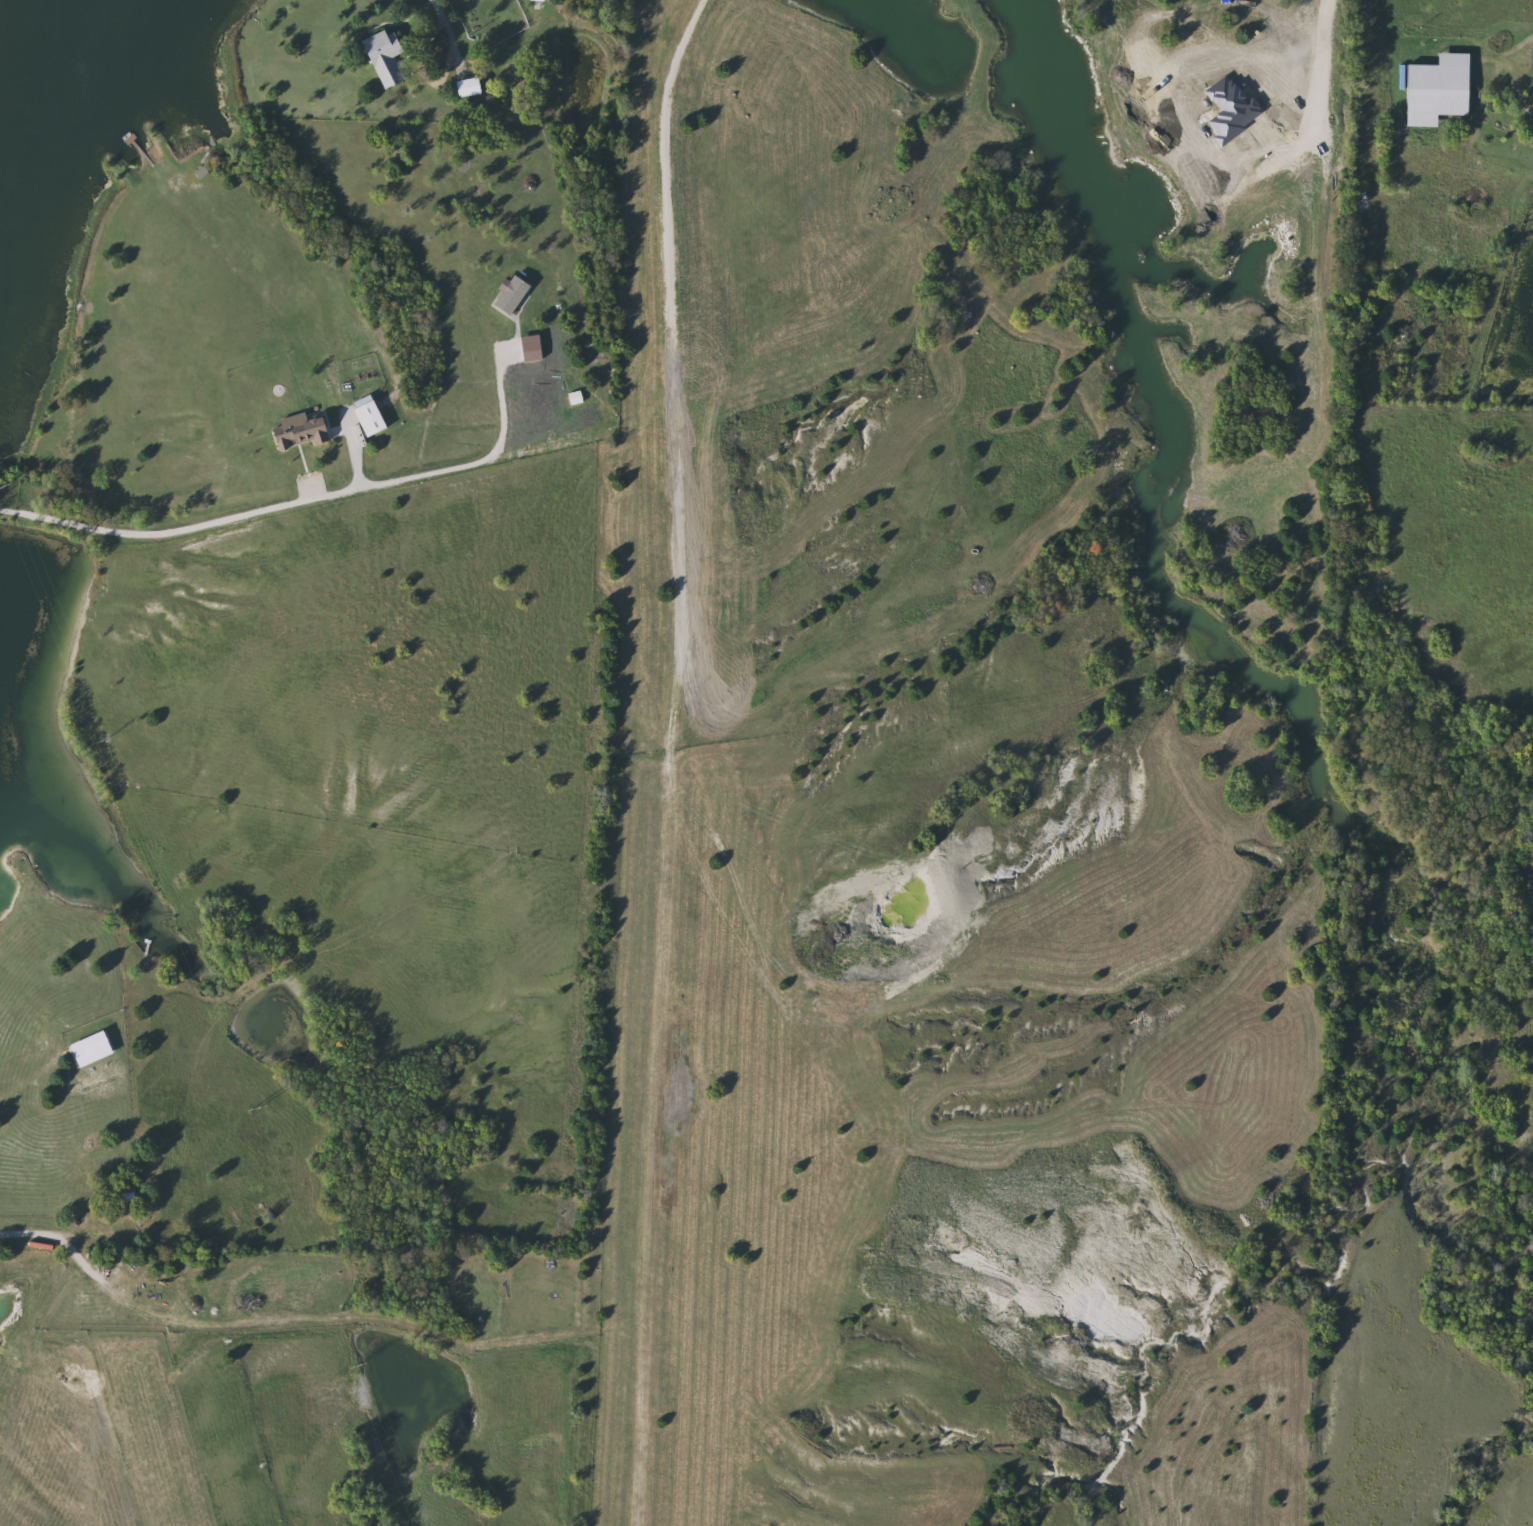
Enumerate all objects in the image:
road: (444, 24)
road: (1520, 53)
building: (389, 57)
building: (471, 88)
building: (1432, 90)
building: (1530, 124)
building: (374, 419)
building: (302, 431)
road: (227, 515)
road: (53, 1234)

